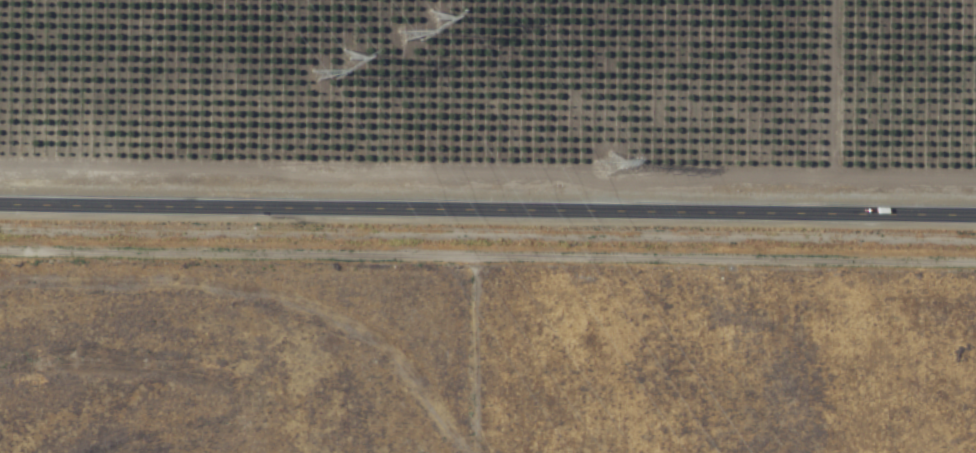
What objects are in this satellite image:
power tower: (418, 5)
power tower: (351, 70)
power tower: (624, 160)
road: (488, 209)
crop: (483, 357)

